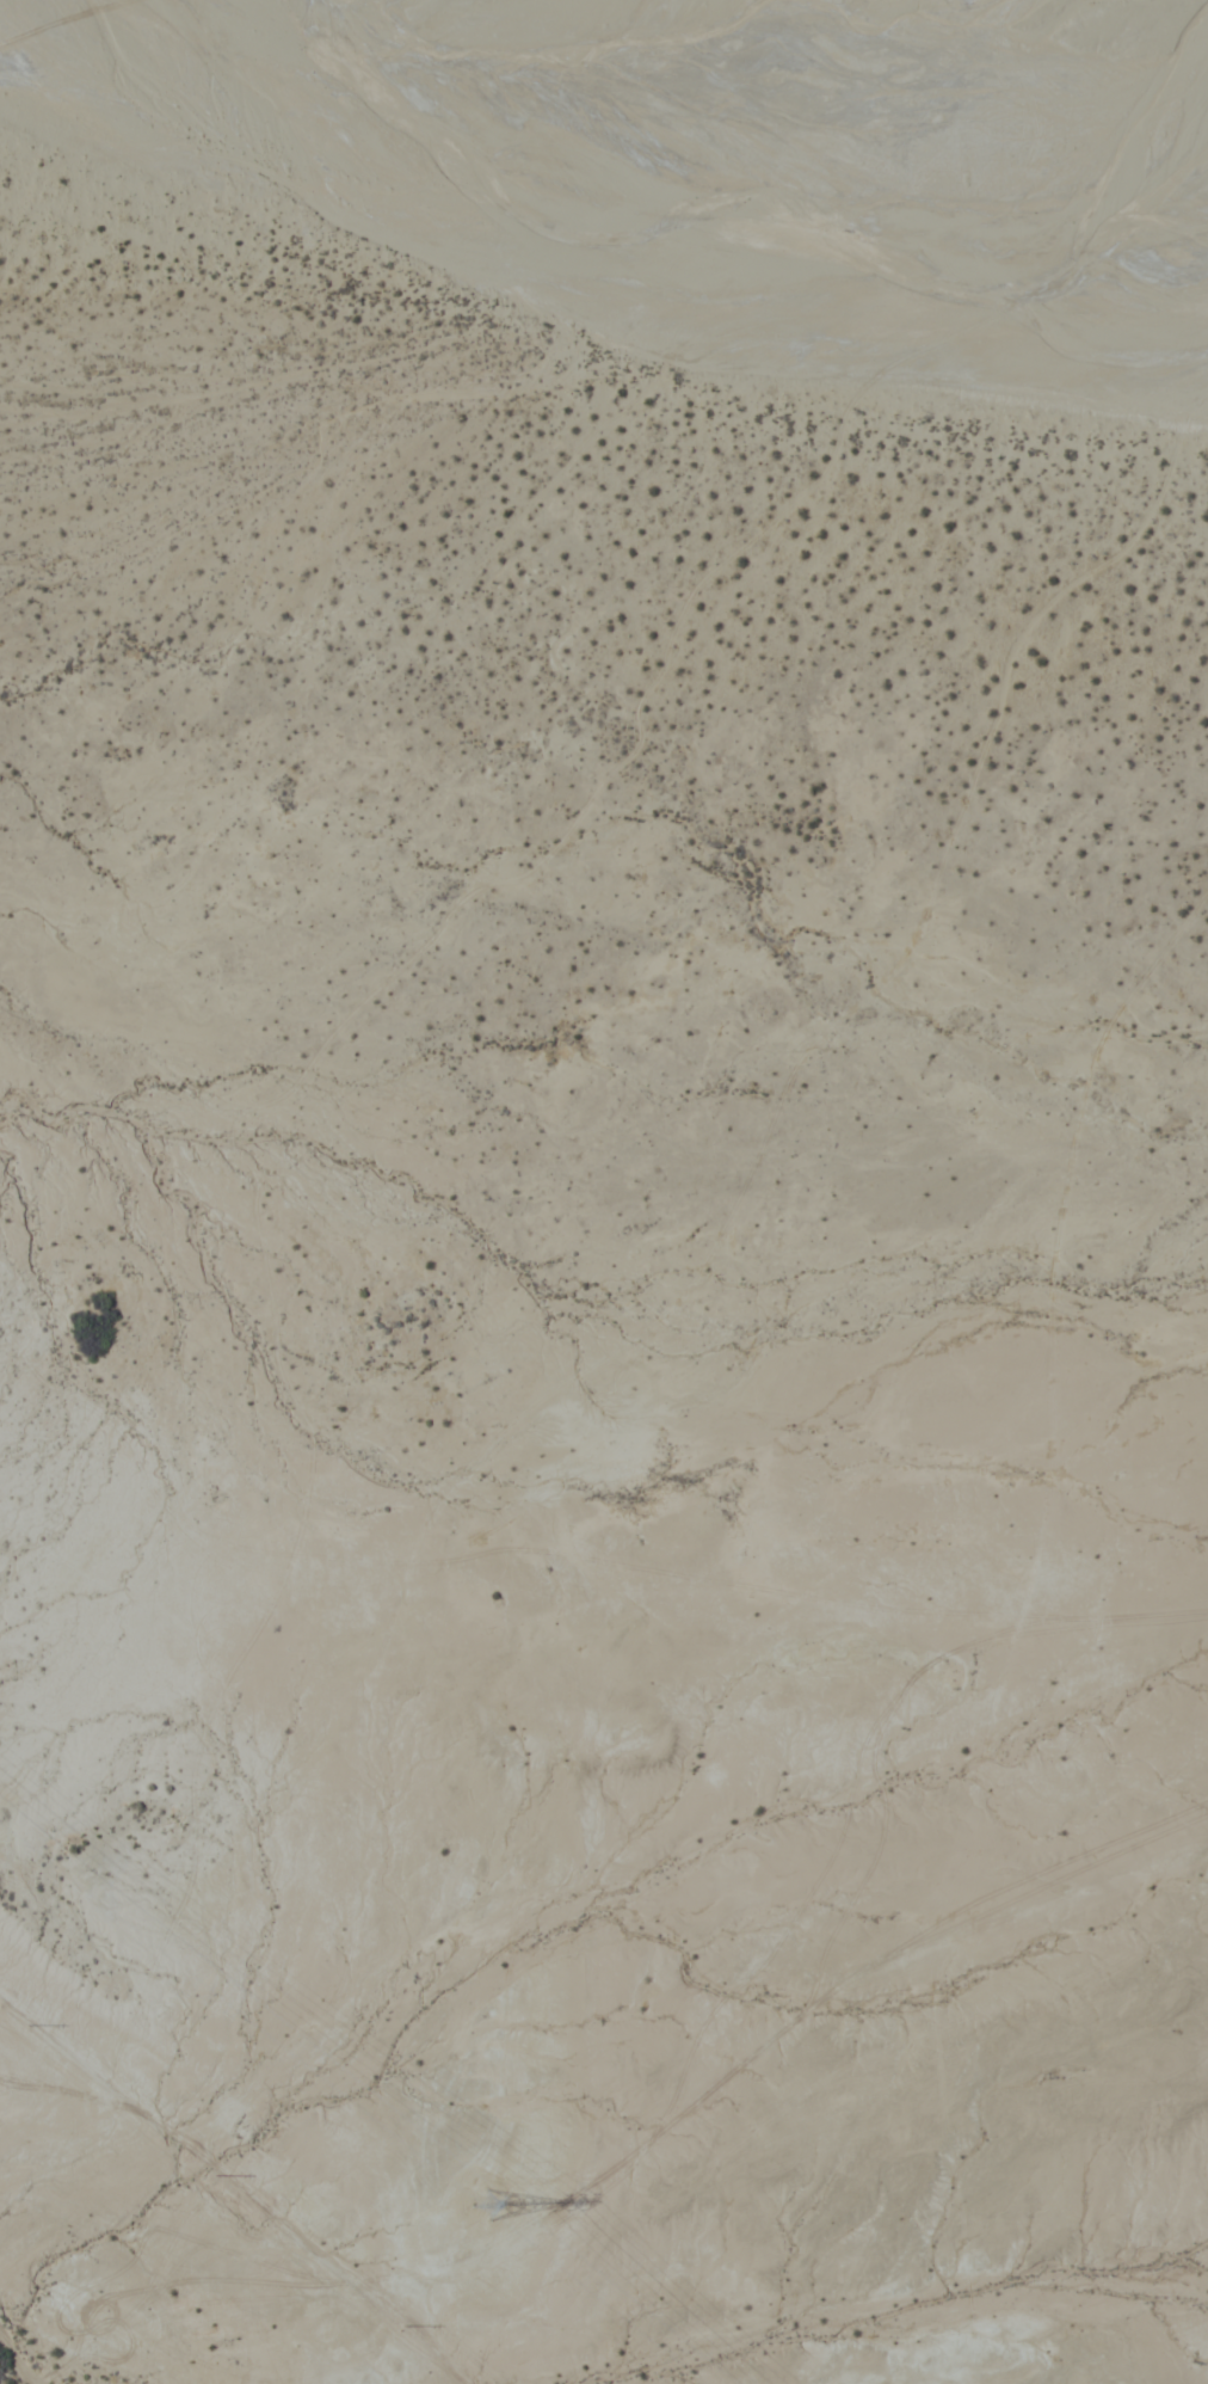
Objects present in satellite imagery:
power tower: (497, 2204)

